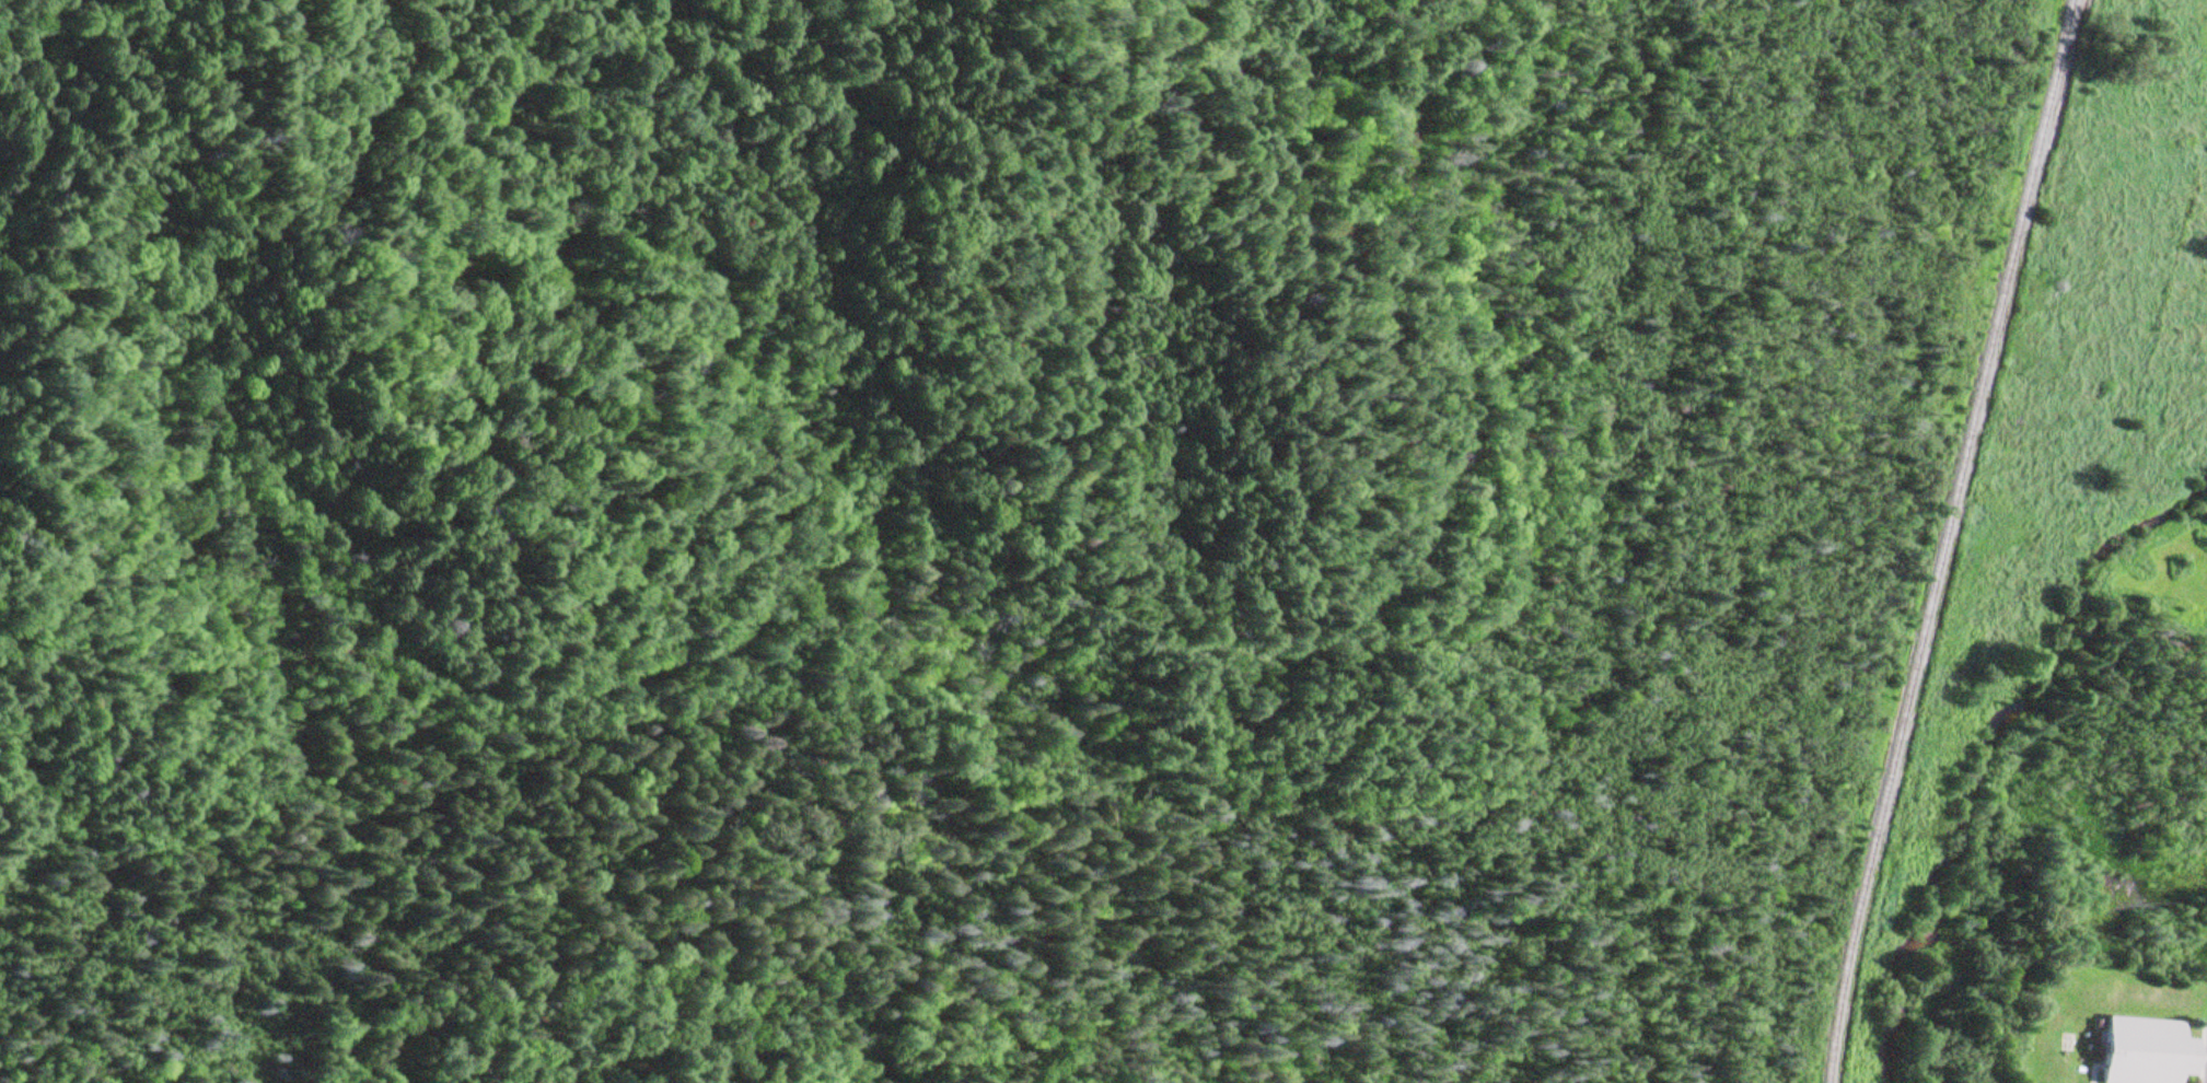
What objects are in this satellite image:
railway: (1971, 431)
road: (1043, 598)
river: (1990, 750)
railway: (1845, 973)
building: (2147, 1052)

